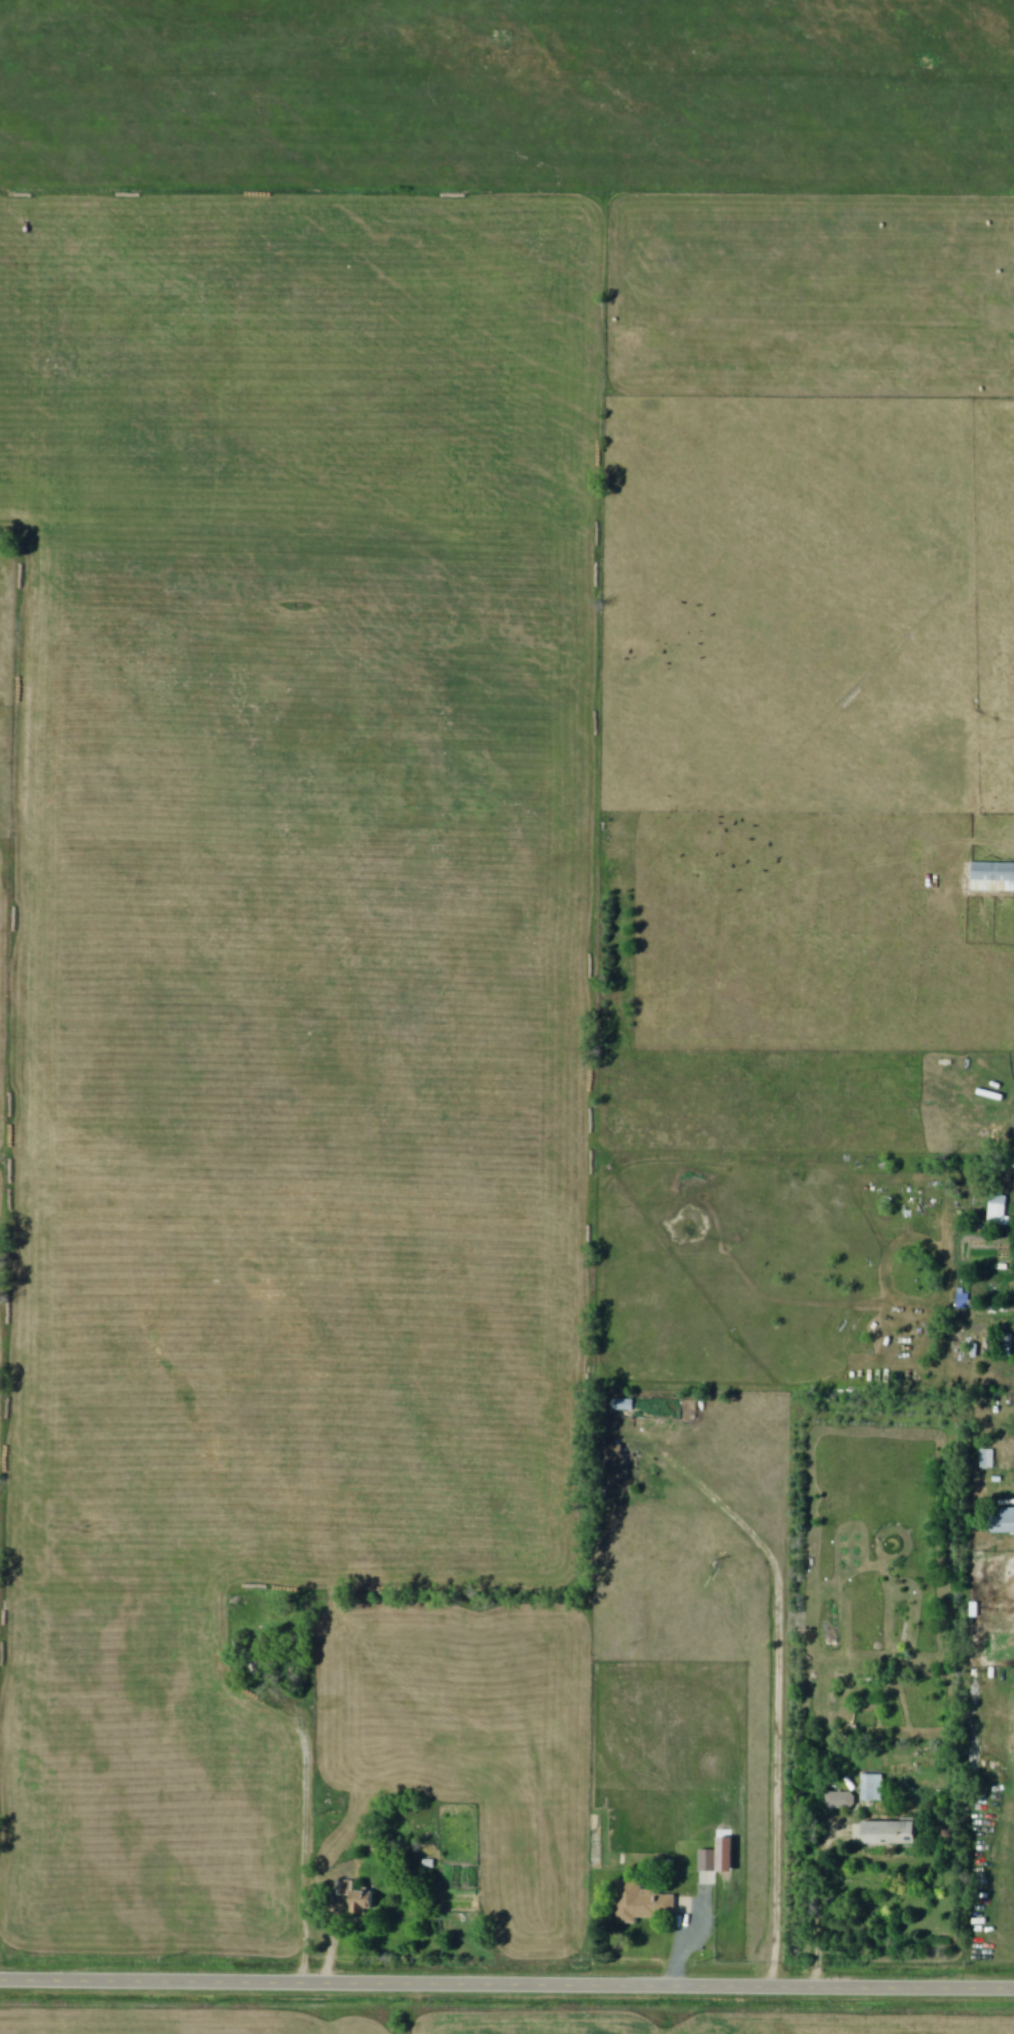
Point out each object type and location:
building: (1010, 337)
building: (993, 869)
building: (998, 1212)
building: (623, 1406)
building: (987, 1460)
building: (1003, 1521)
road: (778, 1777)
building: (872, 1789)
building: (837, 1801)
building: (891, 1834)
road: (305, 1835)
building: (707, 1862)
road: (827, 1890)
building: (358, 1899)
building: (641, 1905)
road: (507, 1982)

